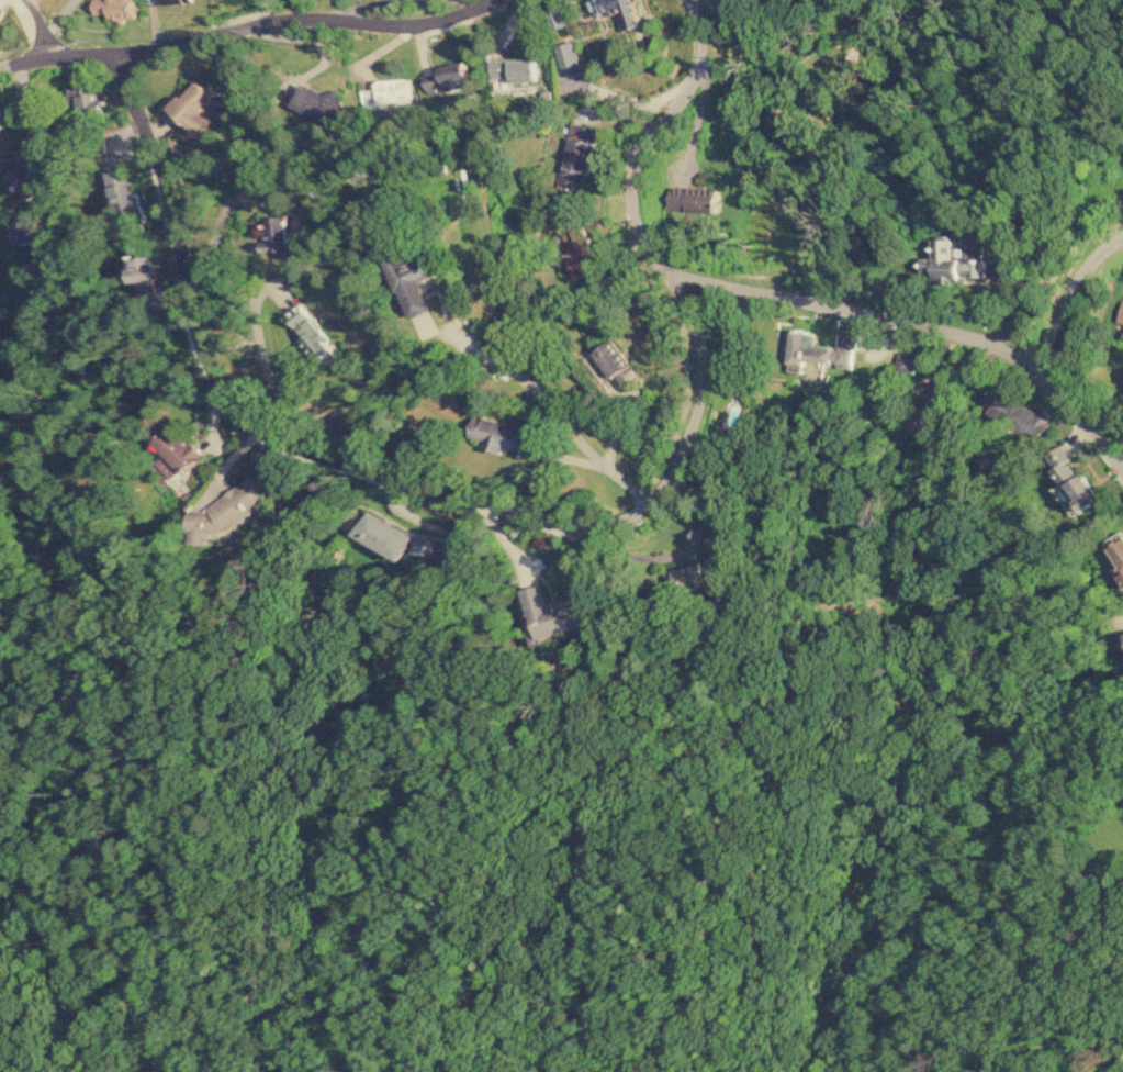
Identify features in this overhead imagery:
building: (170, 1)
building: (0, 5)
building: (110, 8)
building: (617, 11)
road: (248, 30)
road: (40, 31)
building: (512, 68)
building: (446, 78)
building: (385, 92)
building: (83, 99)
building: (191, 105)
building: (3, 111)
building: (576, 155)
building: (27, 180)
building: (123, 194)
building: (693, 199)
road: (58, 209)
building: (26, 230)
building: (274, 234)
building: (955, 259)
building: (141, 267)
building: (144, 286)
building: (413, 290)
road: (1071, 297)
building: (1120, 313)
road: (909, 325)
building: (13, 348)
building: (813, 354)
building: (907, 361)
building: (614, 362)
building: (1015, 413)
building: (495, 434)
building: (176, 449)
building: (1073, 478)
building: (224, 511)
road: (521, 514)
building: (384, 534)
building: (425, 544)
building: (1115, 548)
building: (698, 577)
building: (532, 594)
building: (555, 619)

